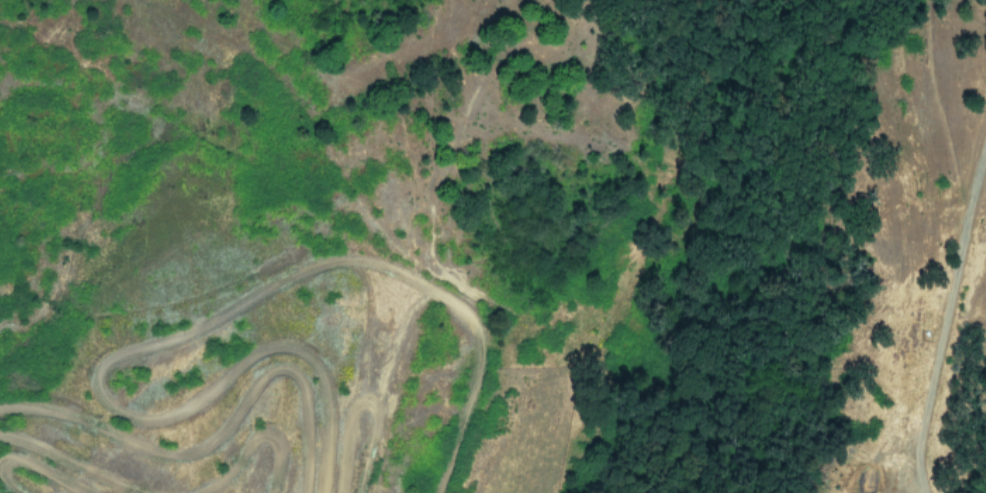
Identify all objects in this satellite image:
crop: (272, 281)

